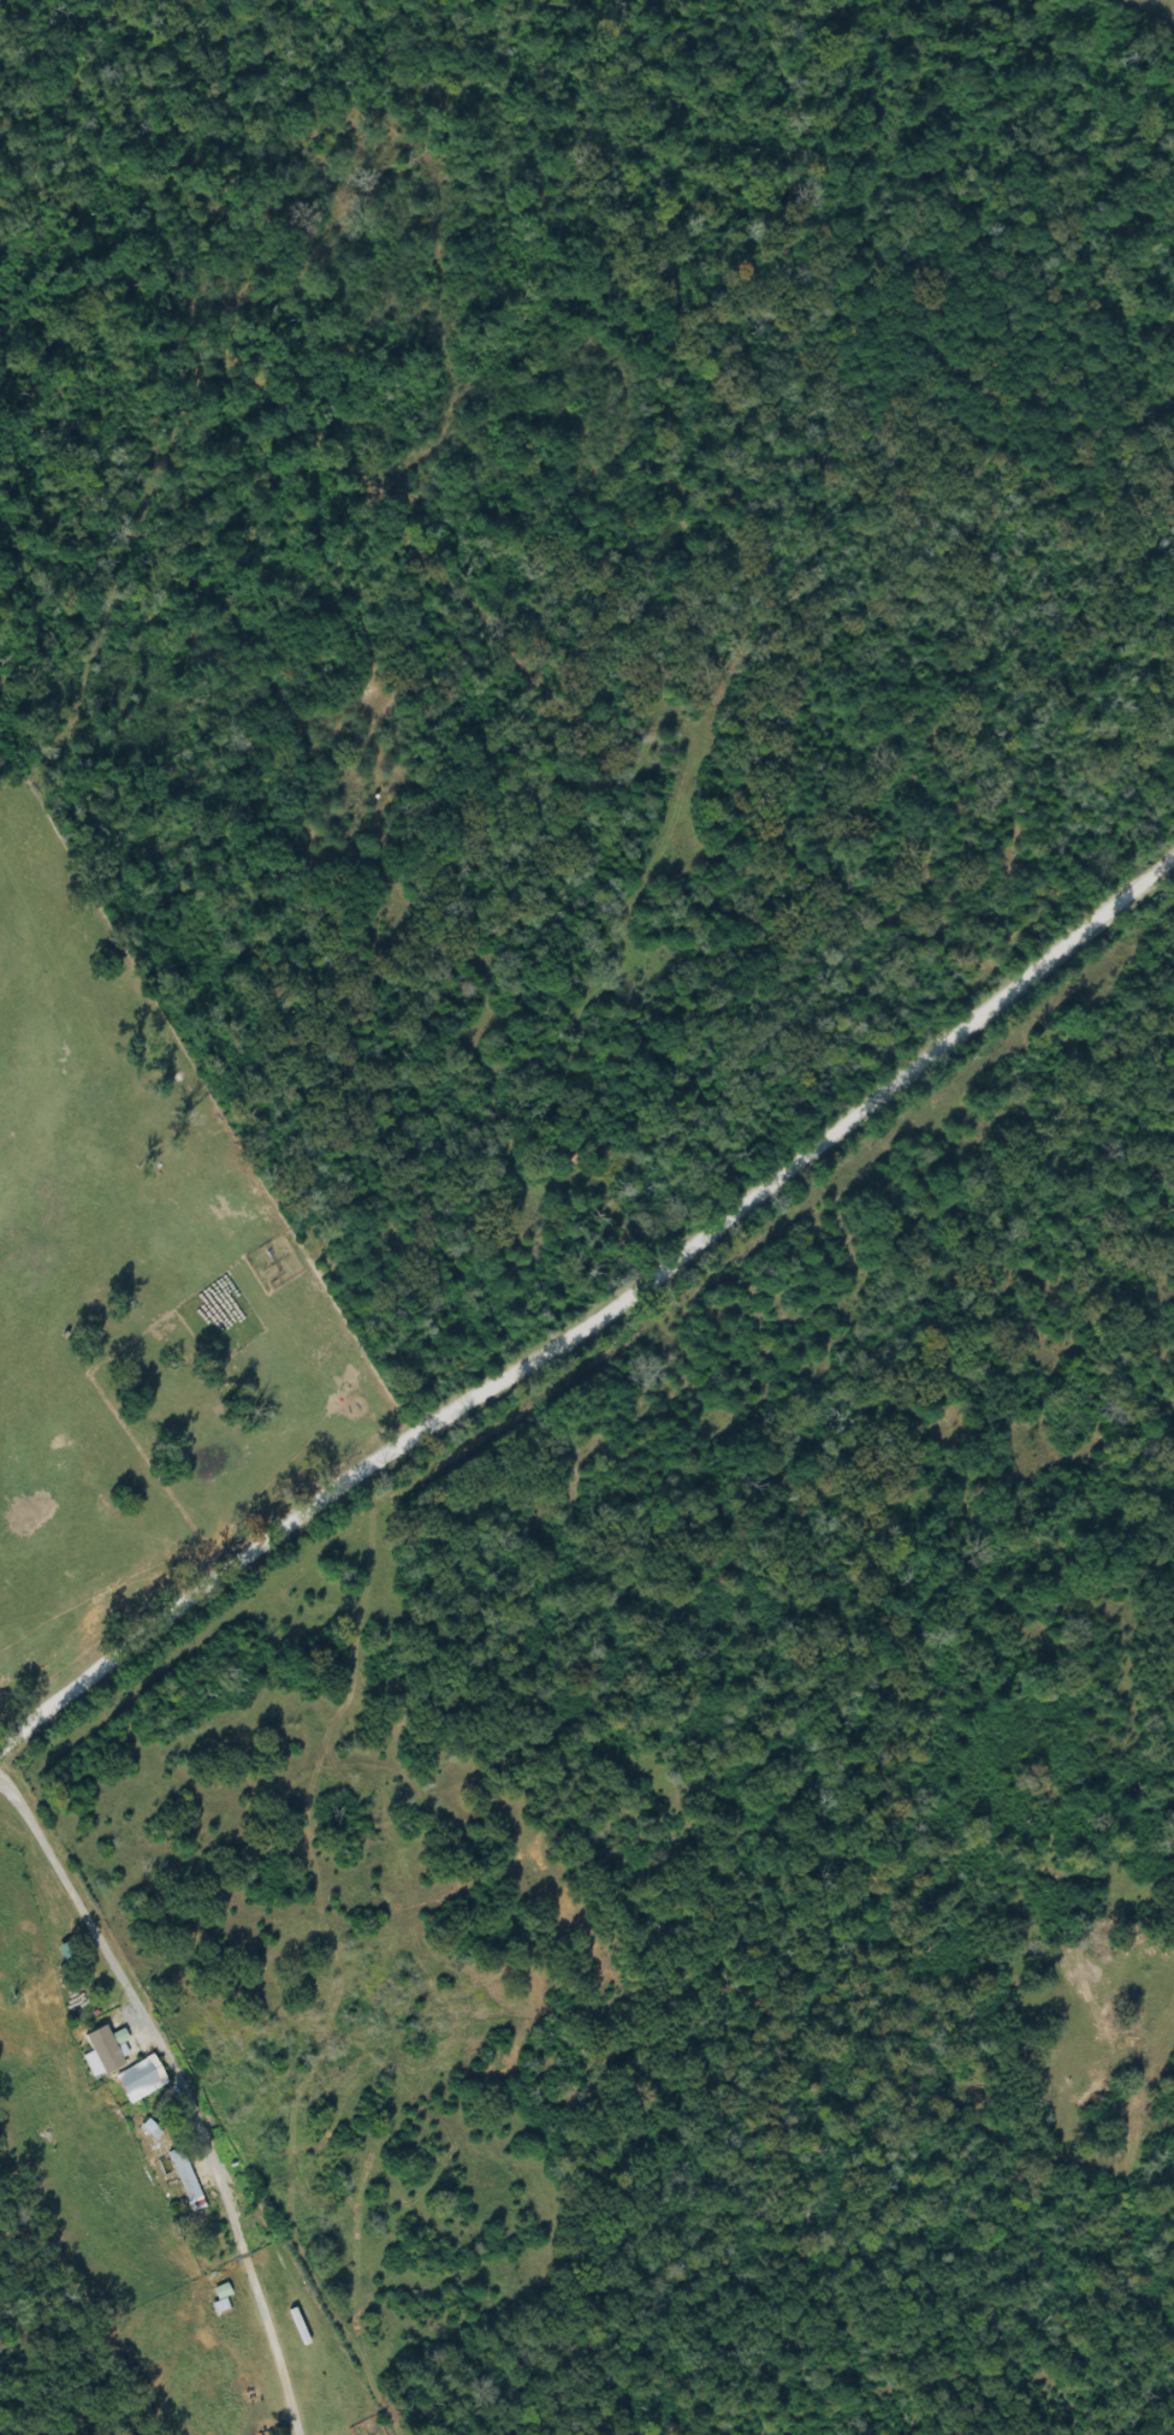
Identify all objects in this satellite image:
road: (599, 1340)
building: (109, 2052)
building: (146, 2080)
building: (190, 2180)

